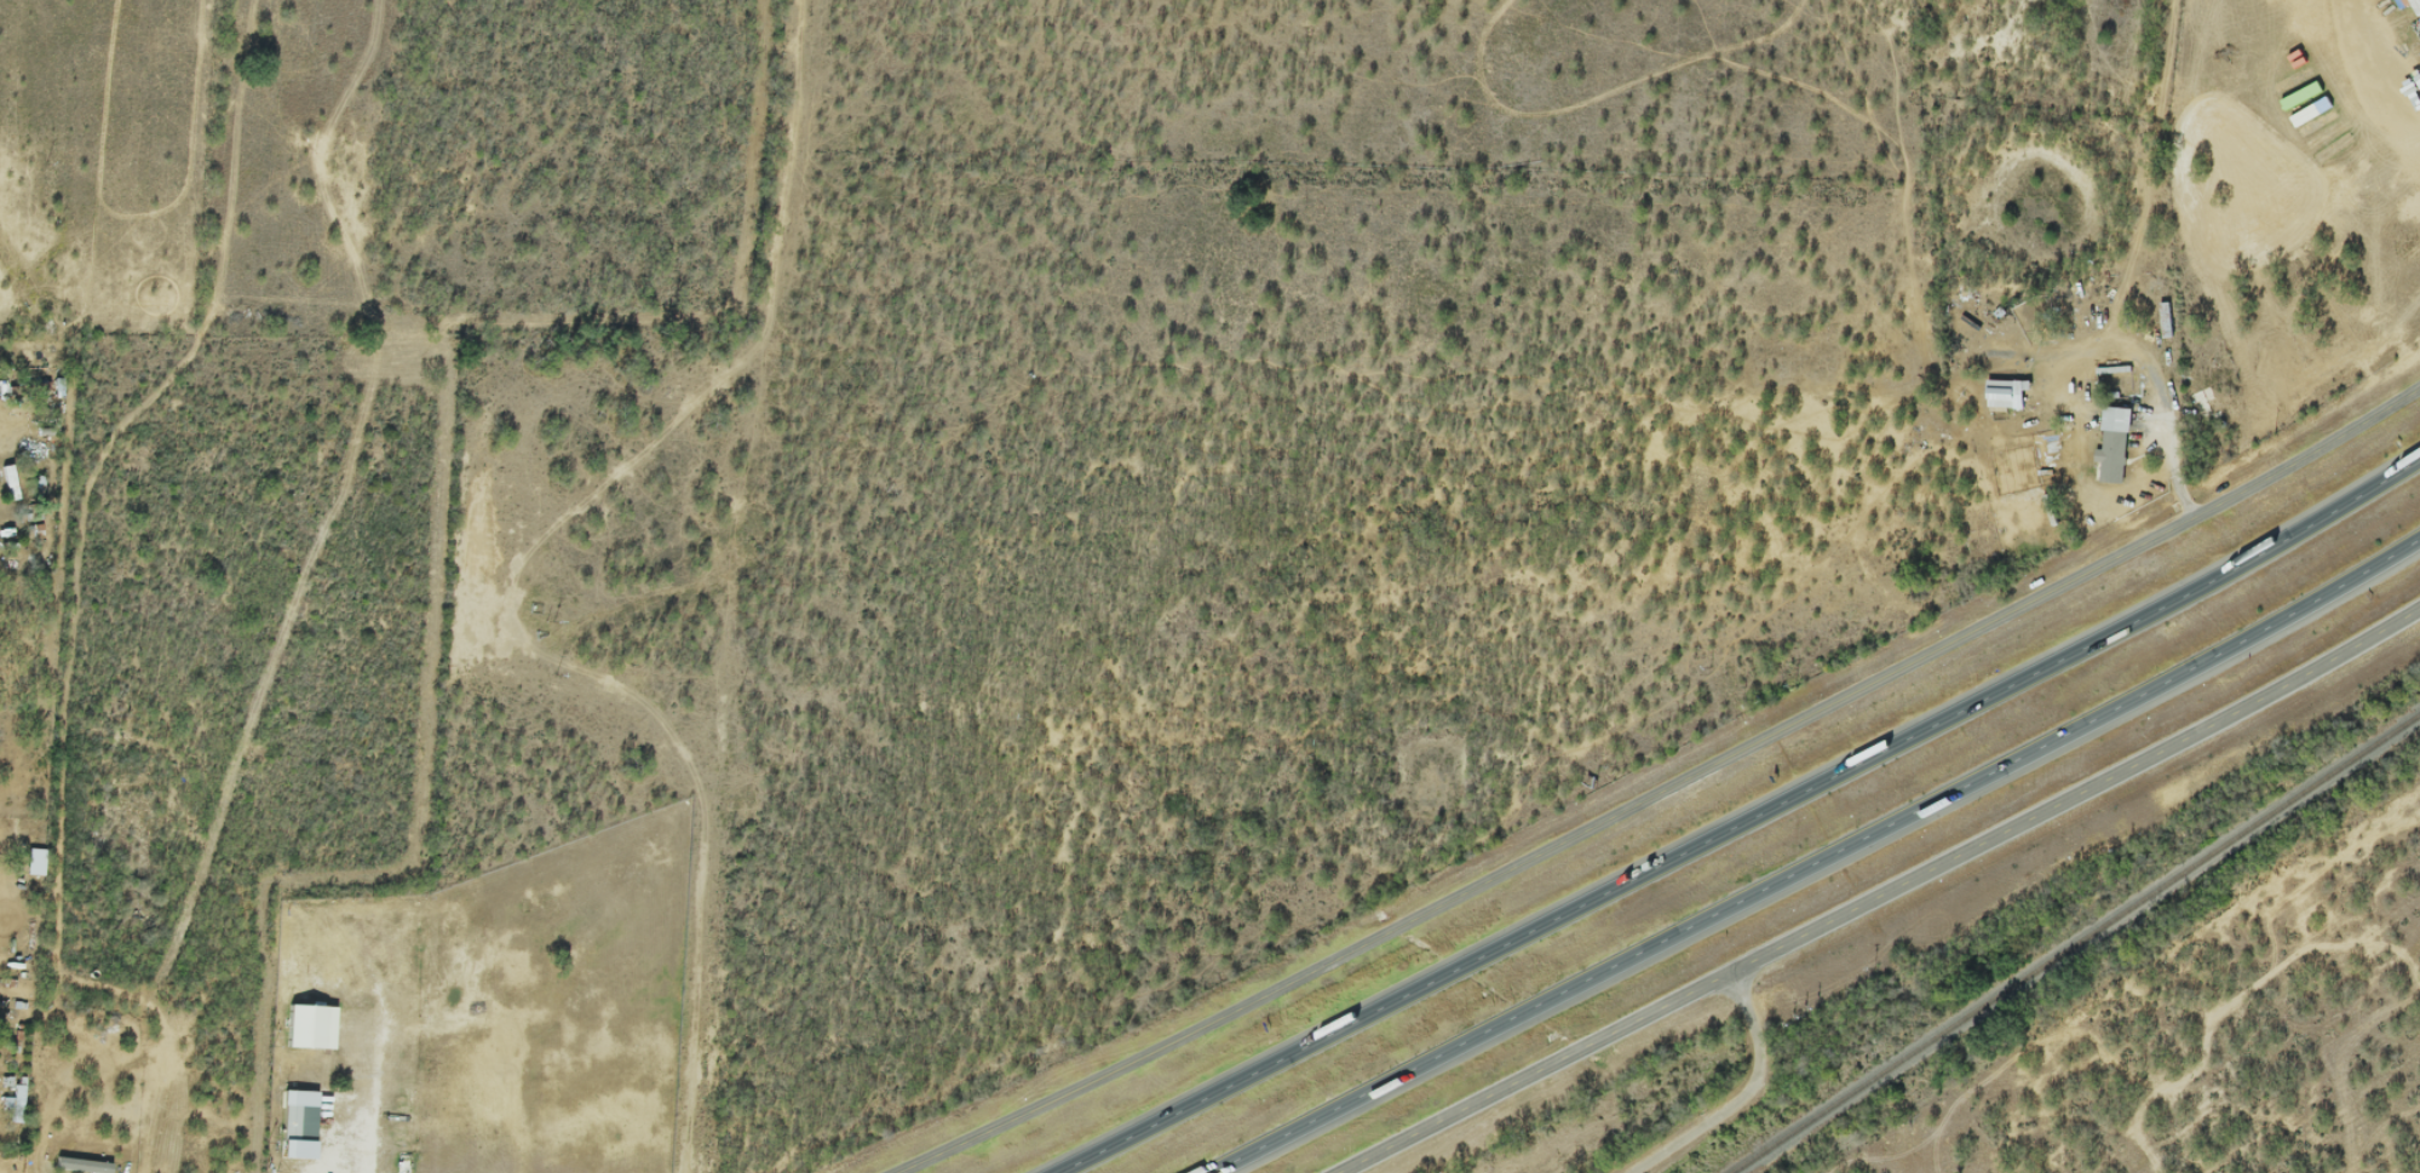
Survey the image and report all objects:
road: (2160, 381)
building: (2206, 402)
building: (2115, 454)
road: (1660, 790)
road: (2081, 794)
road: (1743, 821)
road: (1818, 864)
railway: (2077, 945)
building: (327, 1028)
road: (1541, 1074)
road: (1747, 1093)
building: (291, 1120)
building: (110, 1171)

